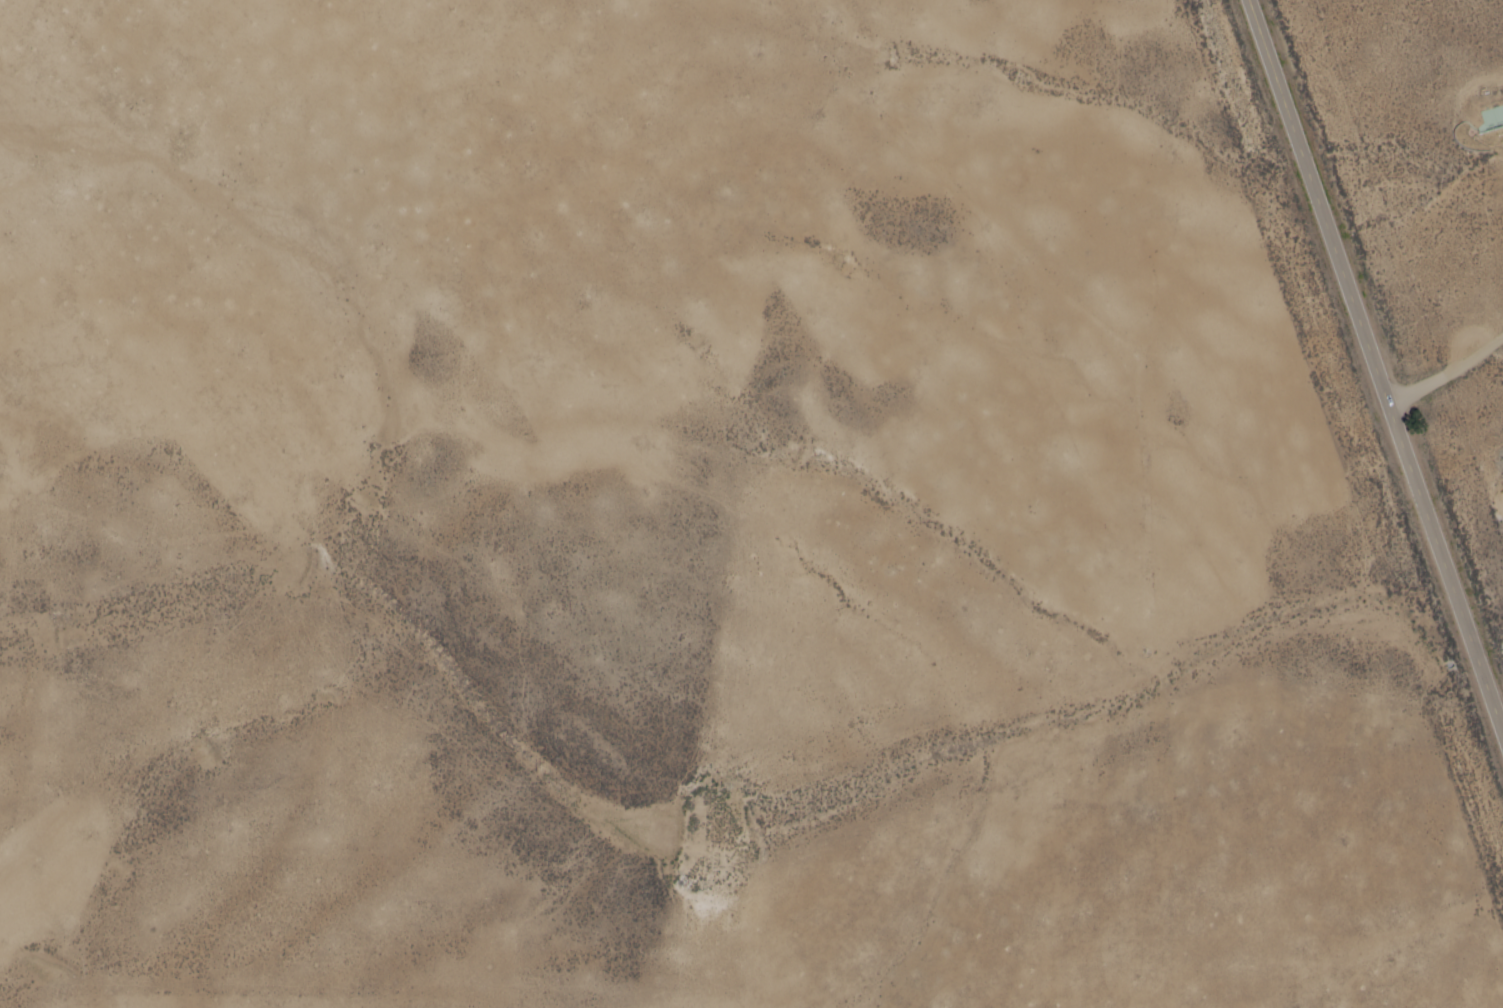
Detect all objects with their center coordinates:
road: (1496, 350)
road: (1377, 362)
road: (1449, 374)

